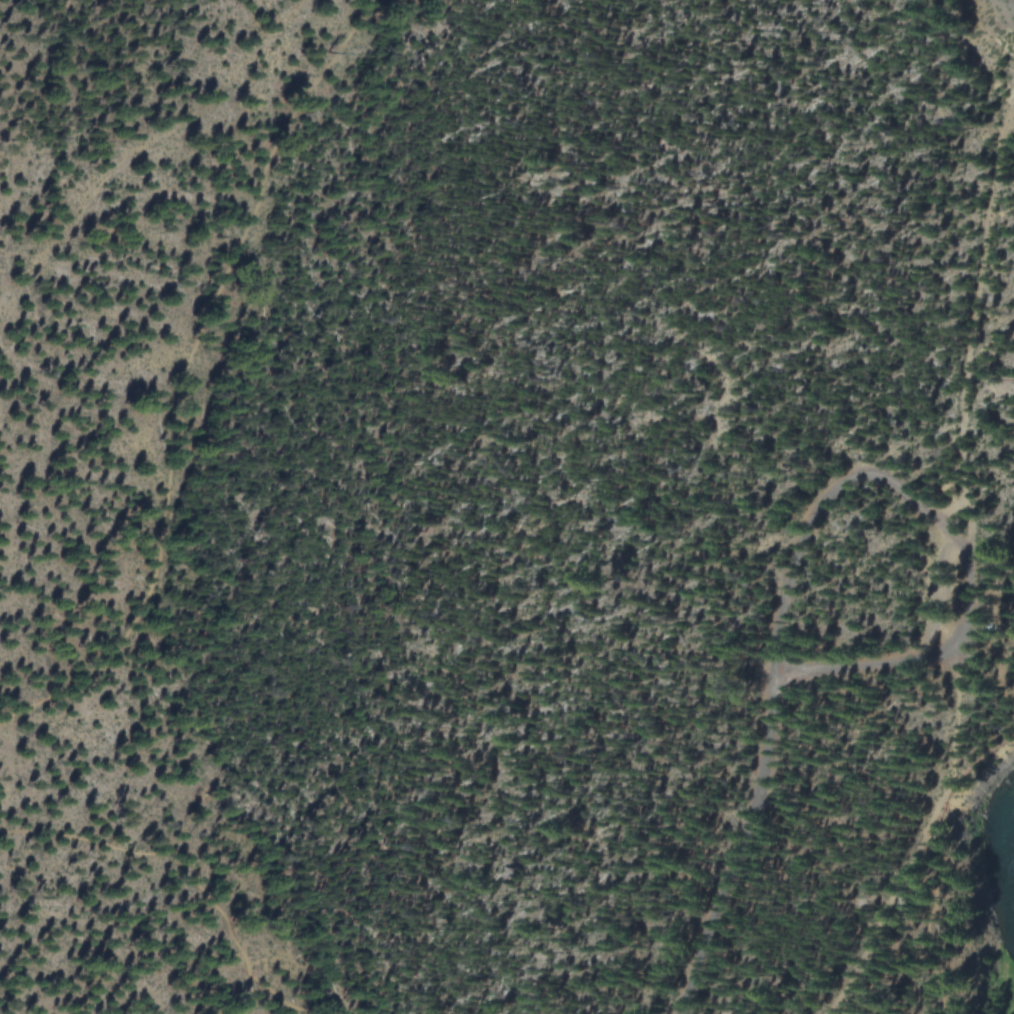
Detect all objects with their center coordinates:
road: (976, 329)
road: (187, 375)
road: (941, 521)
parking lot: (948, 595)
road: (958, 720)
road: (977, 759)
road: (741, 847)
road: (192, 867)
road: (935, 904)
road: (889, 907)

